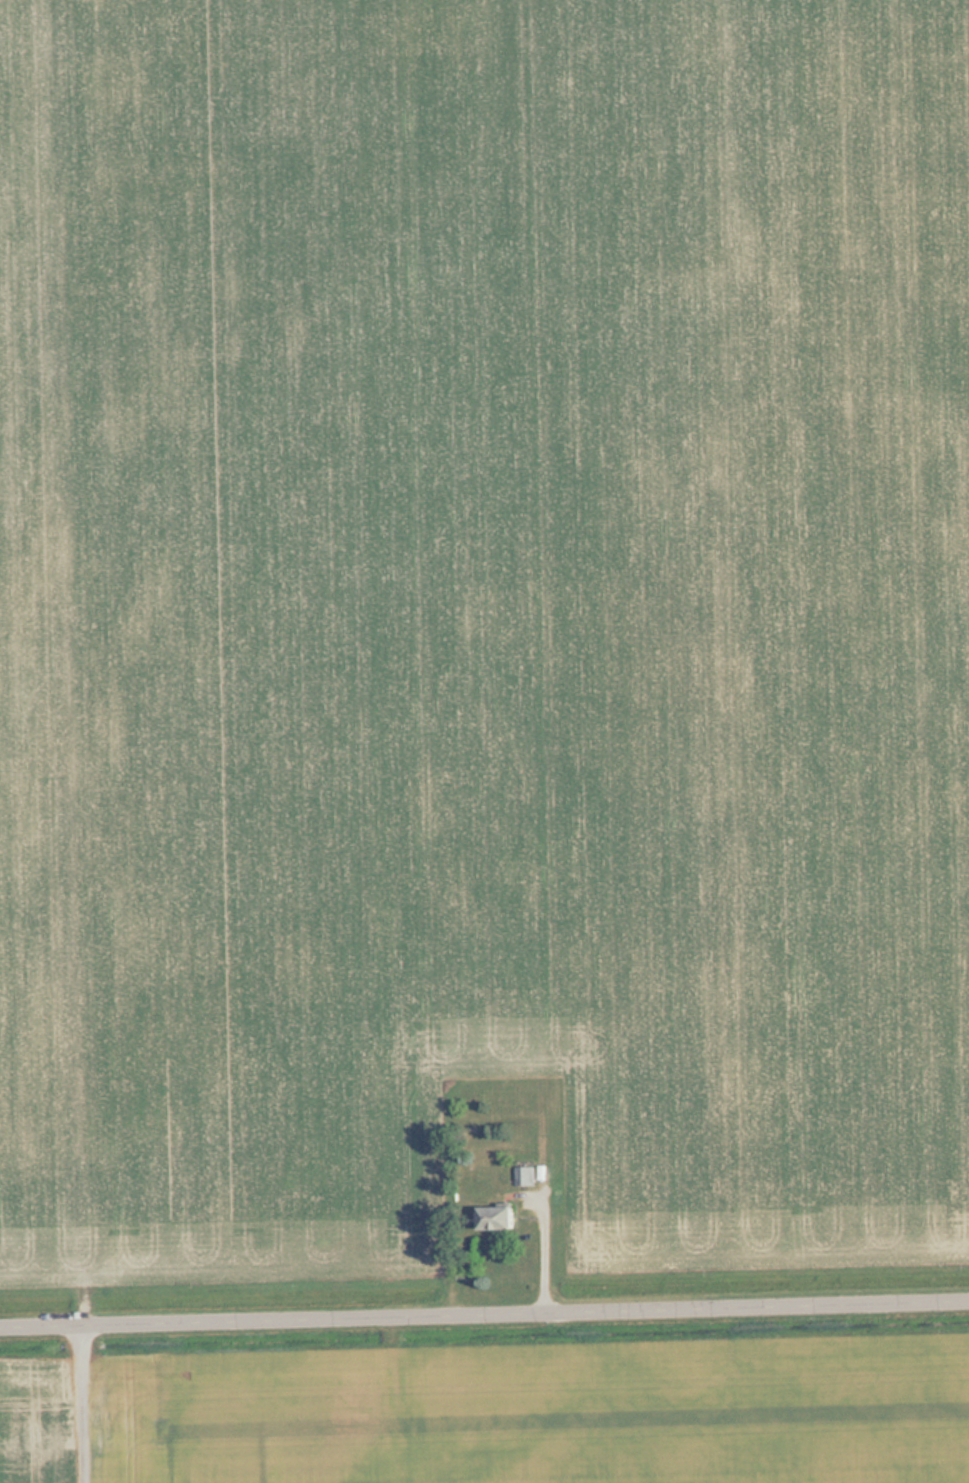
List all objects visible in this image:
building: (526, 1175)
building: (500, 1218)
road: (484, 1311)
road: (77, 1402)

